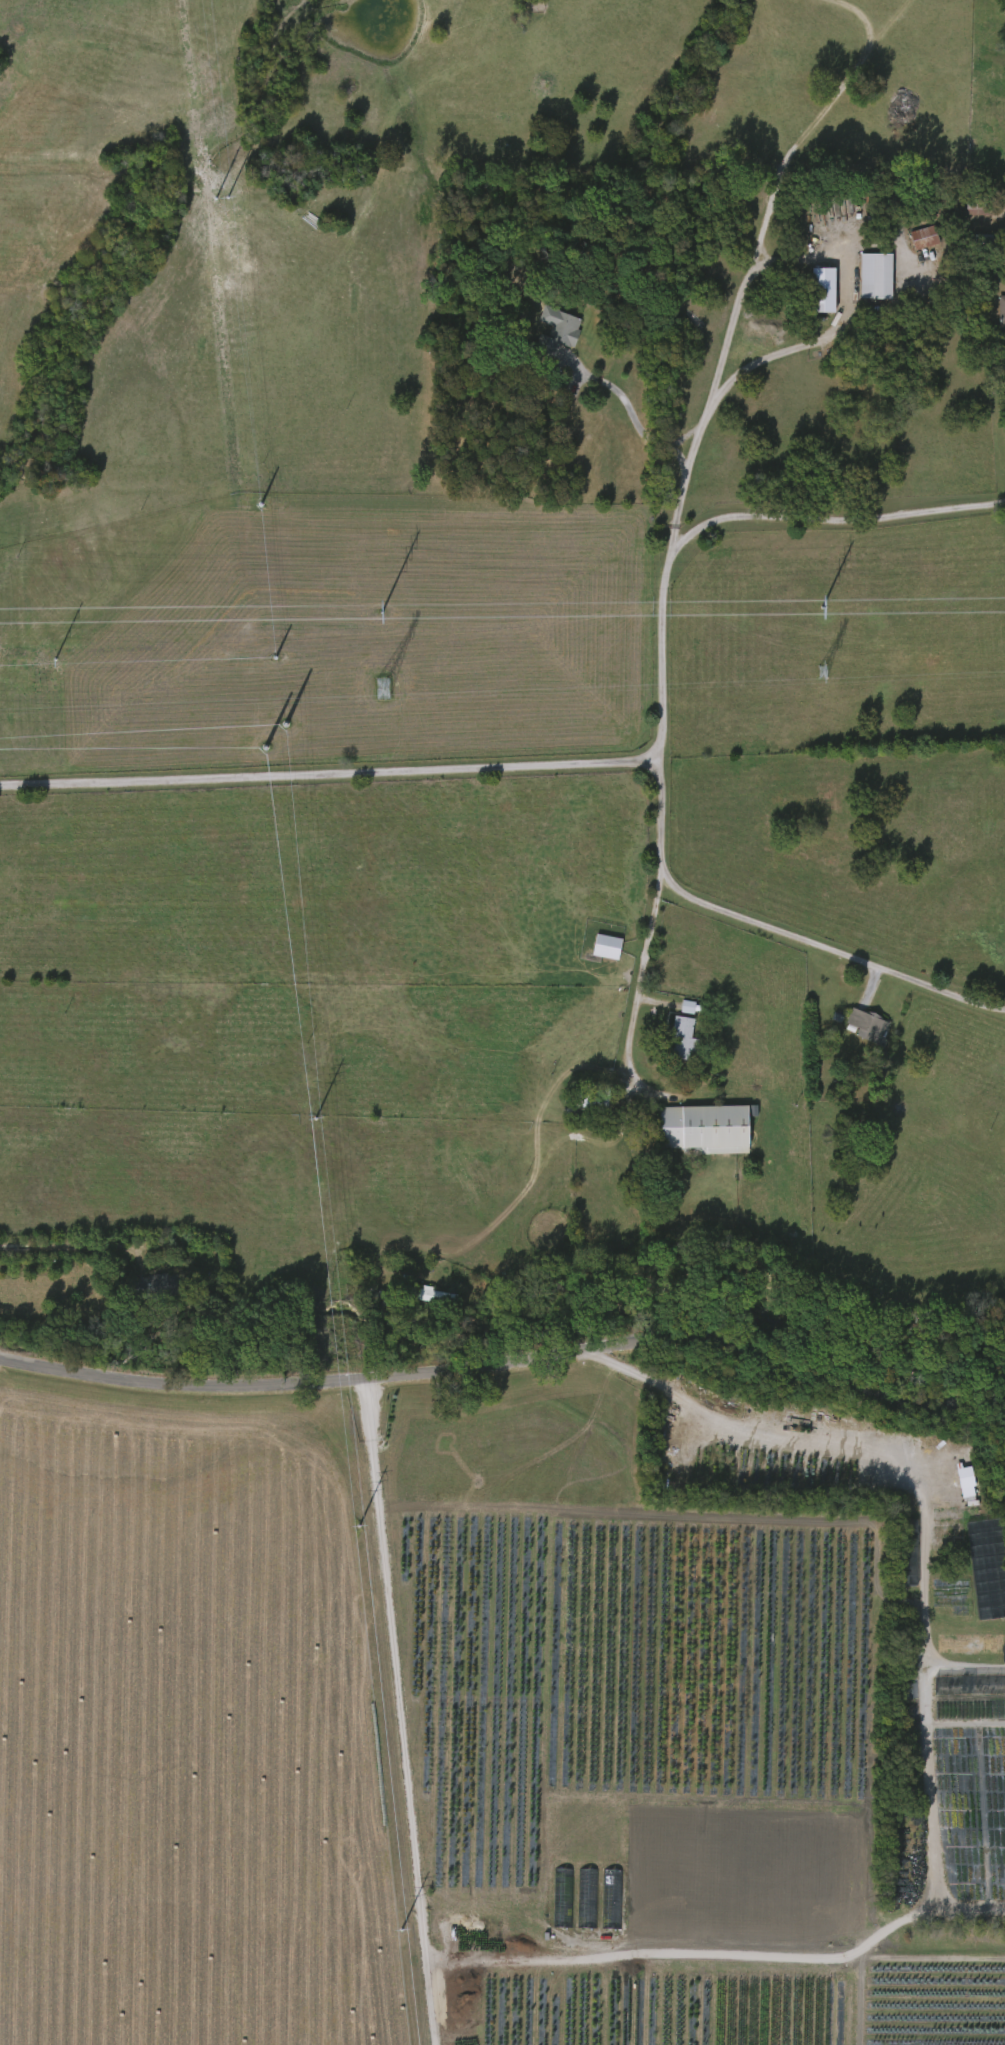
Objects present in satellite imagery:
power tower: (215, 199)
building: (980, 210)
road: (762, 230)
building: (925, 239)
building: (987, 245)
building: (877, 278)
building: (825, 292)
building: (1002, 314)
building: (560, 330)
road: (807, 350)
road: (658, 445)
power tower: (248, 480)
road: (730, 523)
power tower: (823, 609)
power tower: (383, 614)
building: (384, 690)
power tower: (383, 691)
power tower: (287, 726)
power tower: (266, 747)
road: (333, 779)
road: (779, 935)
building: (608, 948)
building: (867, 1027)
road: (648, 1030)
building: (683, 1036)
building: (593, 1103)
power tower: (317, 1120)
building: (705, 1130)
road: (66, 1250)
building: (157, 1287)
building: (437, 1298)
road: (508, 1365)
road: (882, 1438)
power tower: (362, 1528)
building: (988, 1568)
road: (396, 1714)
power tower: (386, 1929)

